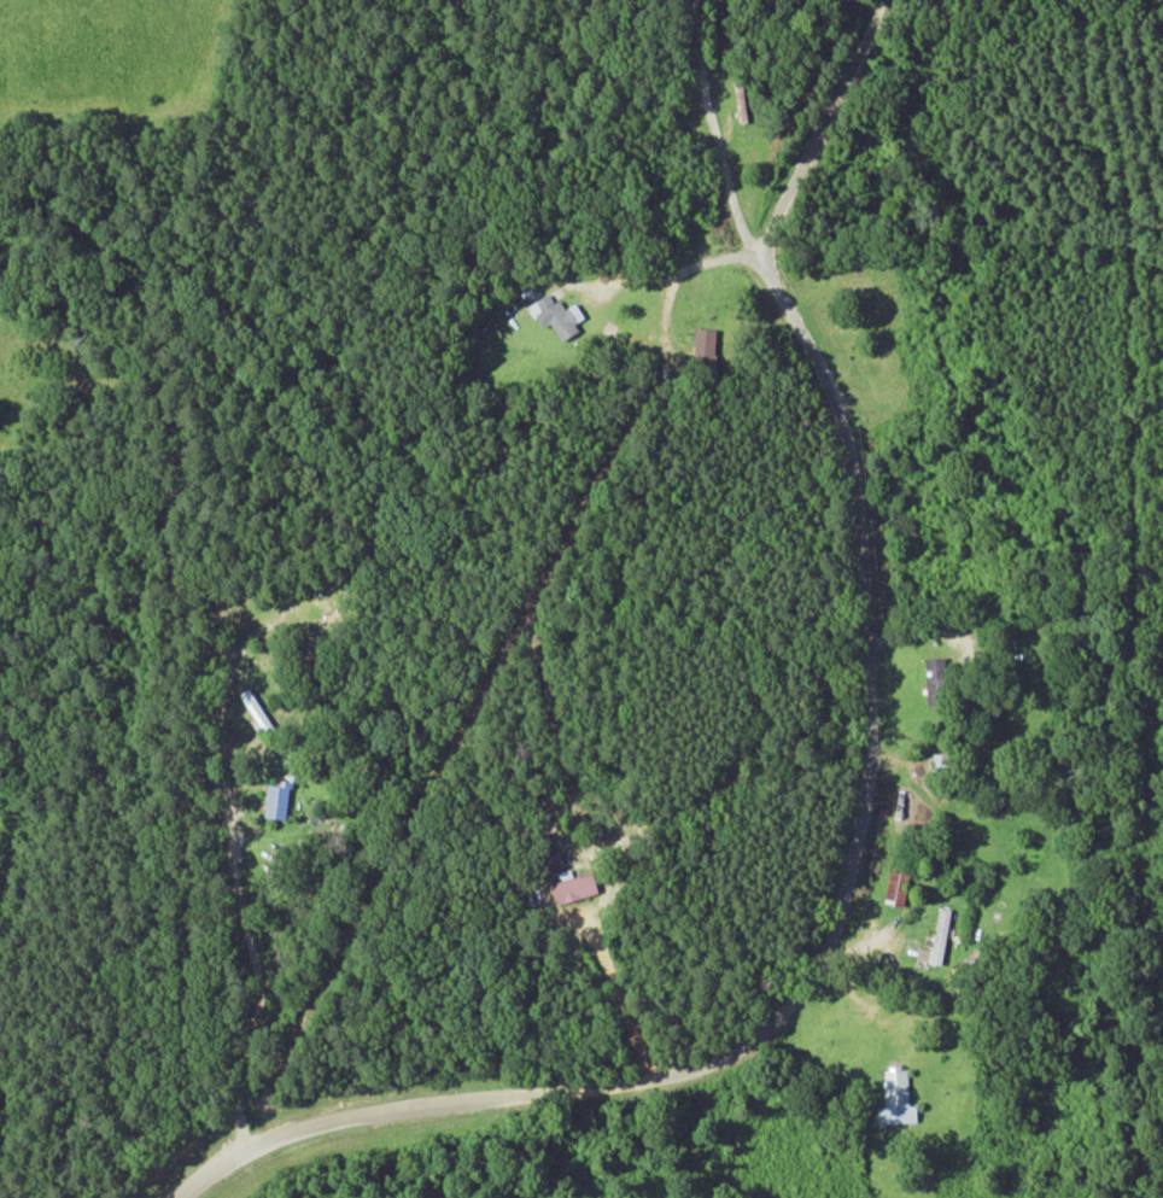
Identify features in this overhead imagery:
road: (822, 129)
road: (715, 135)
building: (559, 319)
building: (706, 345)
building: (937, 682)
building: (277, 802)
building: (555, 863)
building: (577, 889)
building: (899, 889)
building: (937, 941)
road: (820, 952)
building: (899, 1100)
road: (238, 1101)

